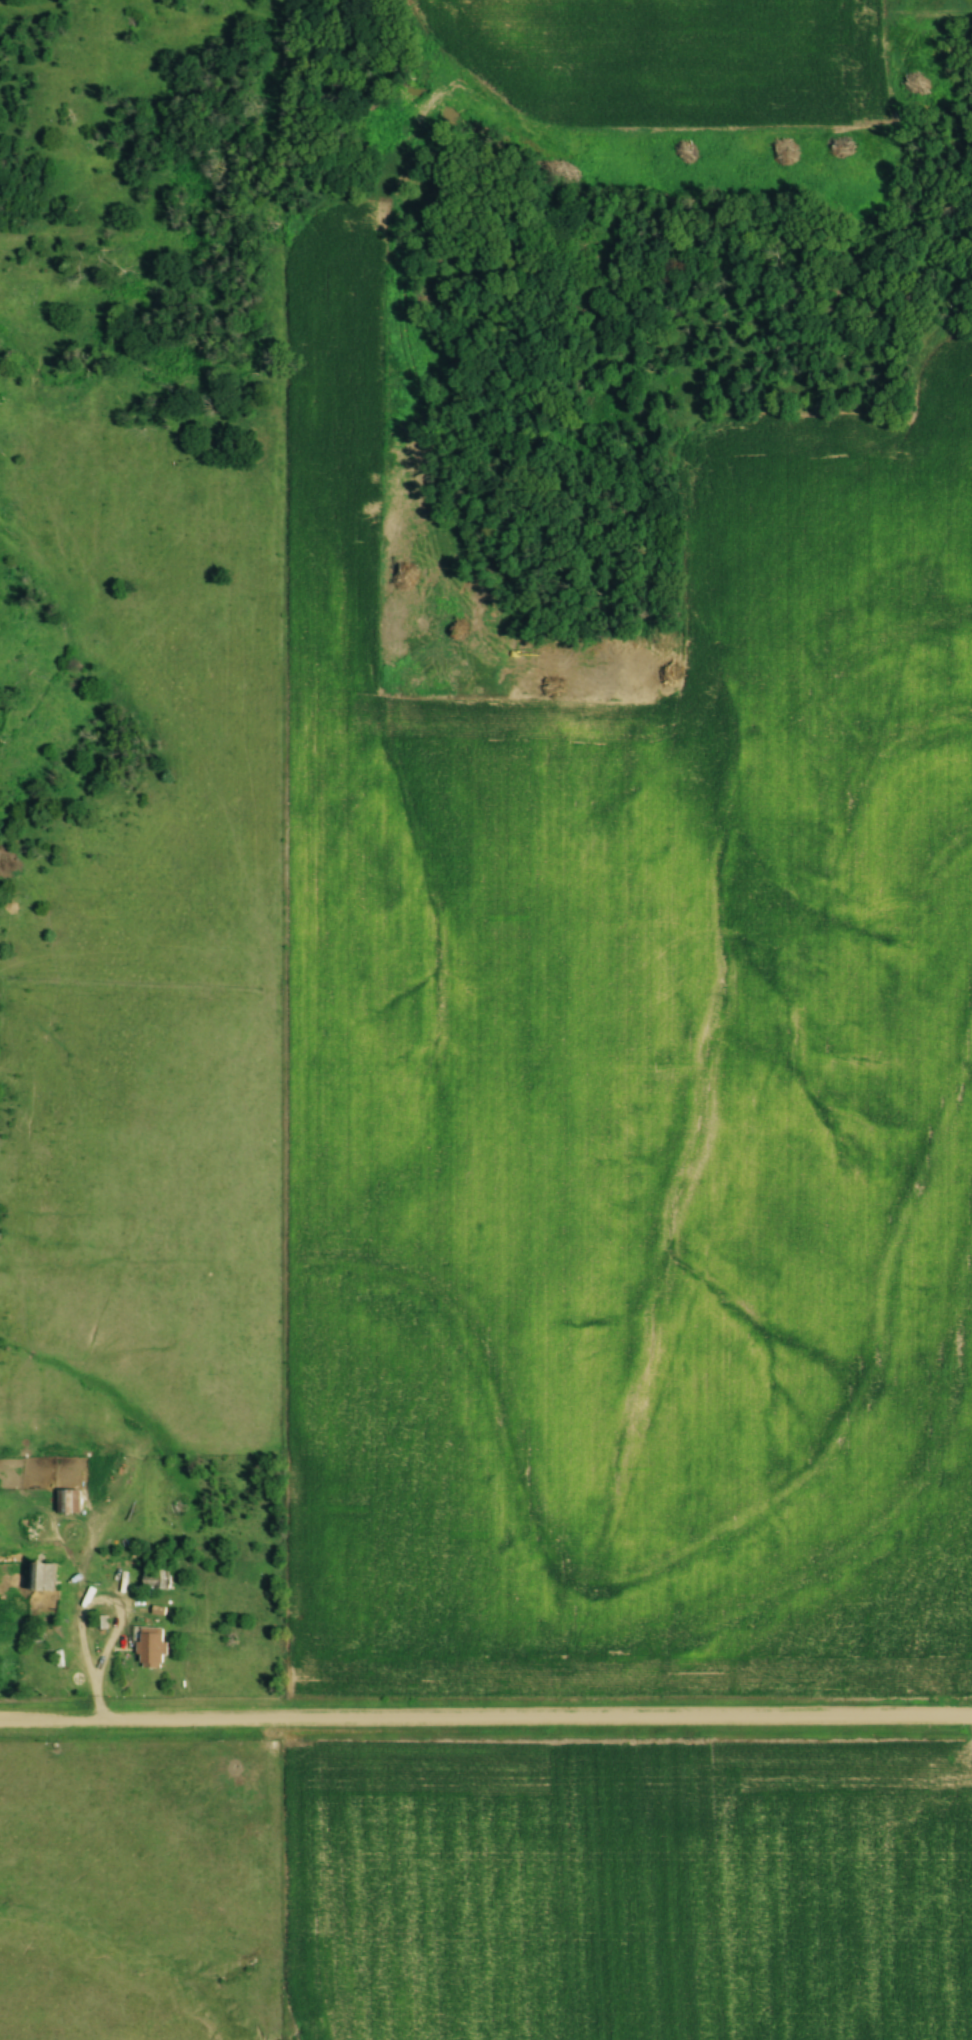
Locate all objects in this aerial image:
building: (67, 1501)
building: (41, 1576)
building: (150, 1647)
road: (485, 1717)

